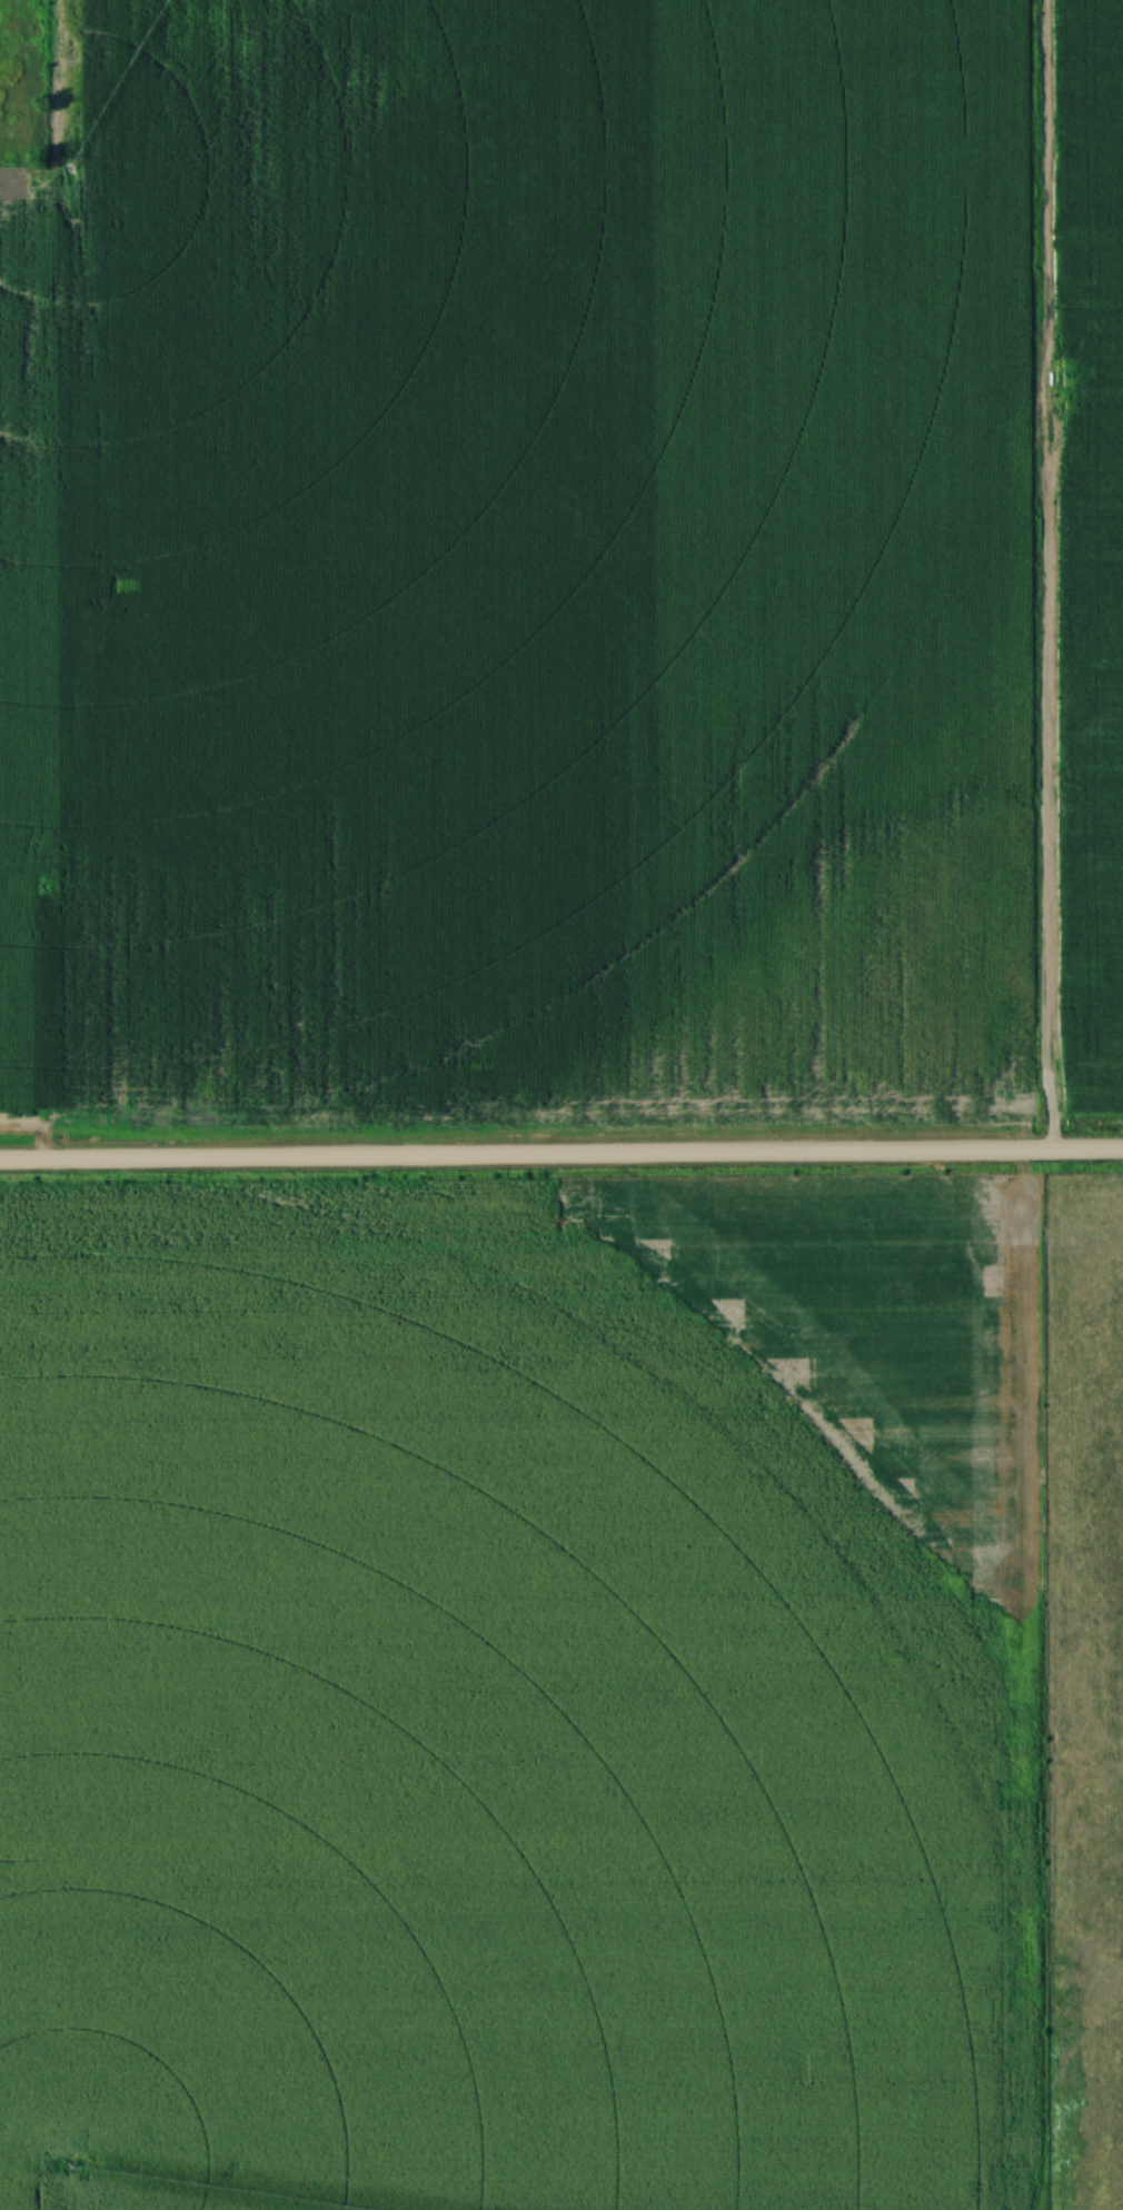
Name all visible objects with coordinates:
road: (561, 1161)

